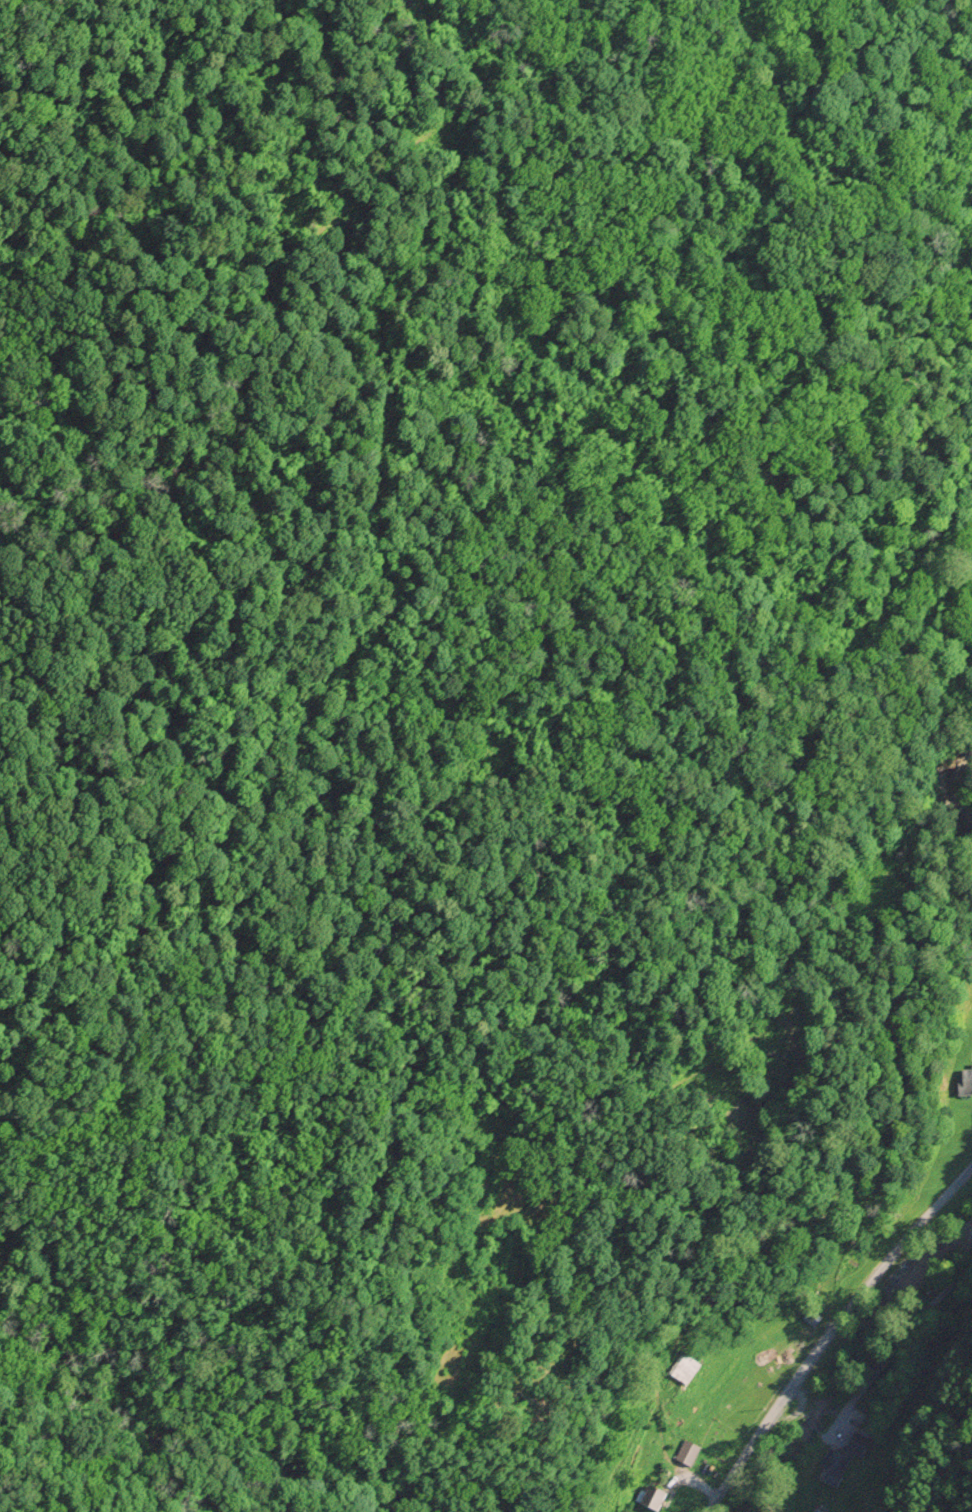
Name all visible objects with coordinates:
building: (965, 1081)
building: (811, 1317)
road: (830, 1331)
road: (899, 1337)
building: (682, 1368)
building: (858, 1446)
building: (687, 1452)
building: (832, 1466)
building: (652, 1497)

